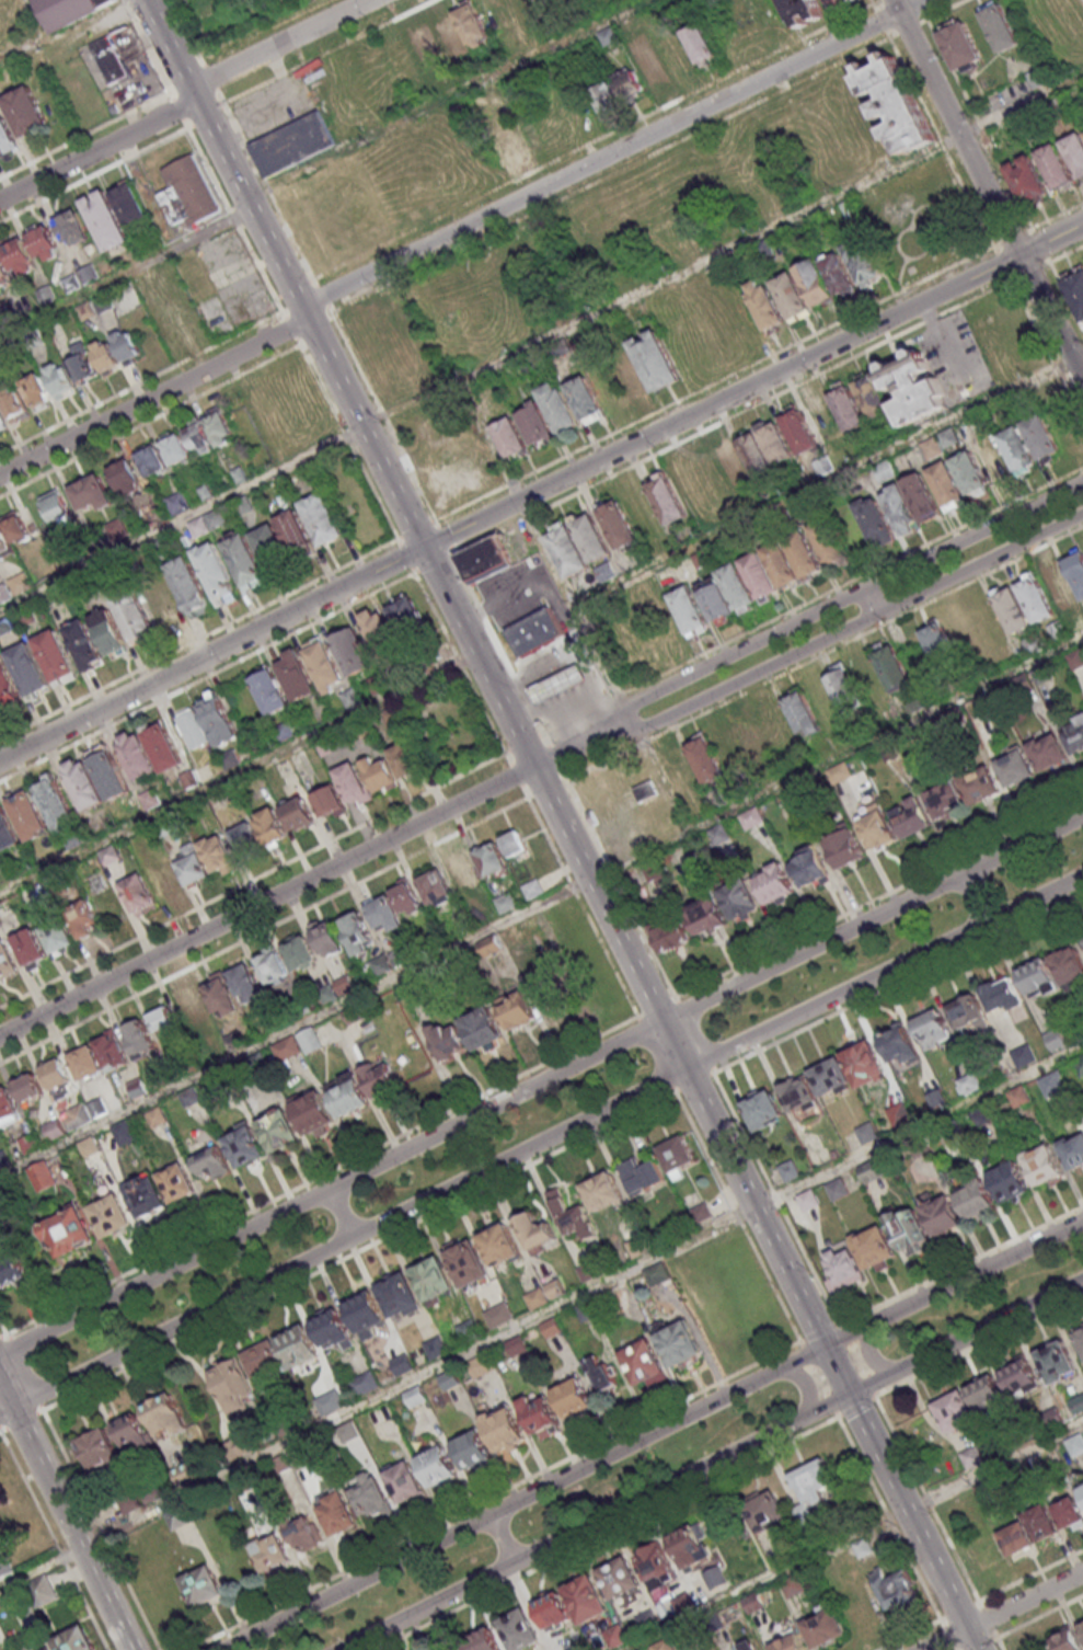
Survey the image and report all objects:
building: (856, 0)
road: (880, 0)
building: (545, 2)
building: (840, 3)
road: (873, 5)
road: (912, 5)
road: (920, 5)
crop: (212, 11)
building: (804, 11)
building: (68, 12)
road: (944, 12)
road: (200, 14)
road: (880, 21)
road: (908, 28)
building: (461, 30)
building: (1001, 30)
road: (894, 37)
road: (42, 41)
building: (699, 43)
road: (277, 44)
building: (425, 45)
building: (103, 47)
building: (960, 47)
road: (148, 49)
building: (646, 60)
road: (949, 66)
building: (113, 67)
building: (1038, 80)
building: (629, 83)
road: (912, 85)
building: (607, 99)
road: (447, 100)
building: (897, 105)
road: (215, 106)
road: (177, 107)
building: (1050, 112)
building: (26, 113)
building: (1026, 124)
road: (980, 126)
road: (84, 136)
building: (7, 139)
road: (594, 139)
building: (510, 140)
building: (293, 145)
road: (942, 146)
road: (97, 149)
building: (1075, 153)
road: (598, 158)
building: (1056, 169)
road: (1007, 181)
building: (1028, 183)
road: (987, 186)
building: (187, 191)
road: (270, 195)
building: (128, 202)
road: (971, 203)
road: (232, 217)
building: (105, 219)
road: (1053, 219)
building: (71, 227)
road: (1012, 239)
building: (44, 242)
road: (1041, 247)
road: (1067, 254)
building: (20, 256)
building: (864, 263)
road: (1002, 264)
building: (3, 271)
road: (1030, 272)
road: (126, 275)
building: (827, 278)
road: (292, 287)
building: (1076, 294)
road: (321, 295)
road: (276, 296)
building: (792, 297)
building: (169, 303)
building: (765, 307)
road: (290, 326)
road: (540, 342)
building: (127, 345)
road: (1047, 351)
building: (106, 355)
building: (646, 365)
building: (83, 366)
building: (59, 379)
road: (141, 383)
road: (715, 385)
building: (900, 389)
building: (36, 391)
road: (154, 398)
building: (587, 402)
building: (14, 404)
building: (846, 405)
building: (558, 406)
road: (381, 414)
road: (731, 417)
building: (1, 422)
road: (150, 422)
building: (219, 426)
building: (537, 426)
building: (798, 428)
building: (509, 436)
building: (199, 437)
road: (347, 439)
building: (1042, 442)
building: (765, 446)
building: (175, 447)
building: (1018, 452)
building: (151, 459)
building: (994, 462)
building: (731, 463)
building: (885, 470)
building: (125, 475)
building: (969, 475)
road: (830, 482)
building: (947, 488)
road: (540, 489)
building: (92, 492)
building: (922, 500)
building: (178, 502)
building: (668, 503)
building: (55, 506)
building: (900, 509)
building: (152, 517)
building: (322, 522)
building: (205, 523)
building: (876, 524)
building: (619, 527)
building: (118, 528)
road: (417, 530)
building: (12, 531)
building: (296, 536)
road: (442, 536)
building: (592, 540)
building: (830, 543)
road: (405, 553)
building: (569, 554)
building: (805, 555)
building: (244, 560)
building: (485, 560)
road: (434, 563)
building: (783, 566)
building: (215, 571)
building: (1076, 572)
building: (607, 573)
building: (761, 577)
building: (189, 586)
building: (738, 589)
building: (1060, 591)
road: (813, 601)
road: (872, 601)
building: (1037, 603)
building: (162, 605)
road: (575, 605)
building: (404, 611)
building: (690, 612)
building: (1014, 614)
building: (135, 616)
road: (804, 617)
building: (376, 623)
building: (111, 634)
road: (199, 640)
road: (498, 644)
building: (84, 646)
road: (810, 646)
building: (942, 649)
building: (352, 651)
road: (823, 653)
building: (57, 657)
building: (1075, 657)
road: (461, 664)
building: (891, 665)
building: (324, 669)
building: (30, 672)
road: (207, 677)
building: (297, 678)
building: (7, 687)
building: (560, 687)
building: (269, 690)
building: (846, 694)
building: (802, 712)
building: (220, 723)
building: (192, 729)
building: (1074, 734)
building: (754, 735)
road: (525, 744)
building: (1047, 749)
building: (165, 750)
road: (553, 755)
building: (404, 759)
building: (705, 759)
building: (1014, 767)
road: (239, 772)
building: (839, 772)
building: (379, 774)
road: (516, 774)
building: (95, 777)
building: (353, 783)
building: (980, 784)
road: (546, 789)
building: (149, 799)
building: (945, 800)
building: (329, 802)
building: (621, 805)
building: (57, 806)
building: (298, 813)
building: (911, 816)
building: (30, 817)
building: (751, 818)
road: (562, 824)
building: (270, 825)
building: (877, 827)
building: (7, 834)
building: (719, 834)
building: (245, 837)
building: (514, 843)
building: (844, 847)
building: (218, 855)
building: (491, 859)
building: (191, 863)
building: (810, 867)
building: (464, 871)
building: (165, 880)
road: (253, 881)
building: (774, 882)
building: (436, 887)
building: (532, 887)
building: (138, 894)
building: (405, 897)
road: (975, 897)
building: (739, 900)
road: (266, 901)
building: (505, 902)
road: (539, 902)
building: (383, 912)
building: (706, 914)
building: (83, 921)
road: (264, 931)
building: (357, 932)
building: (672, 935)
building: (59, 937)
building: (326, 937)
building: (489, 944)
building: (30, 948)
building: (299, 952)
road: (761, 956)
building: (7, 963)
building: (1068, 963)
building: (380, 964)
building: (270, 966)
building: (1036, 976)
road: (898, 983)
building: (244, 984)
building: (343, 984)
building: (1002, 995)
building: (220, 996)
building: (189, 1008)
road: (658, 1008)
building: (515, 1010)
building: (967, 1013)
building: (161, 1018)
building: (482, 1028)
building: (933, 1028)
road: (695, 1035)
building: (138, 1039)
building: (1055, 1039)
building: (447, 1041)
building: (900, 1044)
building: (111, 1049)
road: (657, 1054)
building: (1023, 1054)
building: (863, 1059)
building: (84, 1062)
building: (1079, 1065)
building: (55, 1074)
building: (830, 1076)
building: (379, 1077)
road: (540, 1081)
road: (694, 1082)
building: (967, 1082)
building: (1052, 1084)
building: (26, 1088)
building: (798, 1093)
building: (347, 1095)
building: (1018, 1096)
building: (7, 1107)
building: (763, 1110)
building: (899, 1112)
building: (313, 1113)
building: (983, 1114)
road: (439, 1118)
building: (278, 1131)
road: (540, 1143)
building: (244, 1145)
building: (1073, 1151)
building: (676, 1153)
building: (211, 1162)
building: (1044, 1165)
building: (872, 1169)
building: (641, 1175)
building: (1010, 1181)
building: (175, 1182)
building: (601, 1191)
building: (145, 1195)
road: (774, 1198)
building: (976, 1199)
road: (344, 1211)
building: (567, 1212)
building: (940, 1213)
building: (110, 1215)
road: (737, 1215)
building: (533, 1229)
building: (909, 1230)
building: (66, 1231)
building: (499, 1244)
building: (874, 1247)
road: (356, 1252)
building: (465, 1261)
road: (960, 1262)
building: (11, 1265)
building: (843, 1268)
building: (433, 1277)
building: (656, 1279)
building: (396, 1294)
building: (365, 1311)
road: (540, 1315)
building: (498, 1316)
road: (2, 1329)
building: (330, 1329)
building: (468, 1329)
building: (551, 1329)
building: (1079, 1334)
road: (2, 1337)
building: (679, 1342)
building: (297, 1345)
building: (435, 1348)
road: (869, 1352)
building: (1056, 1357)
building: (265, 1362)
building: (643, 1362)
building: (402, 1364)
building: (480, 1365)
building: (600, 1374)
building: (1021, 1375)
building: (231, 1378)
building: (449, 1380)
building: (365, 1383)
road: (806, 1383)
building: (986, 1393)
building: (415, 1397)
building: (573, 1398)
building: (1078, 1403)
building: (955, 1410)
building: (164, 1416)
building: (541, 1417)
road: (834, 1417)
road: (22, 1421)
building: (504, 1429)
road: (3, 1431)
building: (131, 1432)
road: (650, 1433)
road: (902, 1444)
building: (96, 1450)
building: (472, 1451)
road: (710, 1463)
road: (994, 1465)
building: (437, 1467)
building: (404, 1482)
building: (814, 1482)
building: (1082, 1487)
road: (491, 1494)
building: (370, 1498)
road: (64, 1509)
building: (765, 1512)
building: (1070, 1513)
building: (336, 1514)
building: (1041, 1523)
road: (601, 1533)
building: (304, 1535)
road: (504, 1537)
building: (1016, 1538)
building: (692, 1546)
building: (864, 1547)
road: (906, 1548)
building: (269, 1554)
building: (655, 1566)
building: (619, 1577)
building: (715, 1578)
road: (765, 1579)
building: (203, 1585)
building: (794, 1585)
building: (896, 1588)
building: (753, 1602)
building: (572, 1603)
road: (1004, 1609)
road: (1032, 1617)
building: (648, 1619)
building: (1081, 1626)
building: (823, 1627)
building: (518, 1630)
building: (615, 1636)
building: (74, 1640)
building: (1068, 1640)
building: (482, 1641)
building: (791, 1642)
building: (748, 1645)
building: (663, 1646)
building: (454, 1647)
building: (571, 1649)

